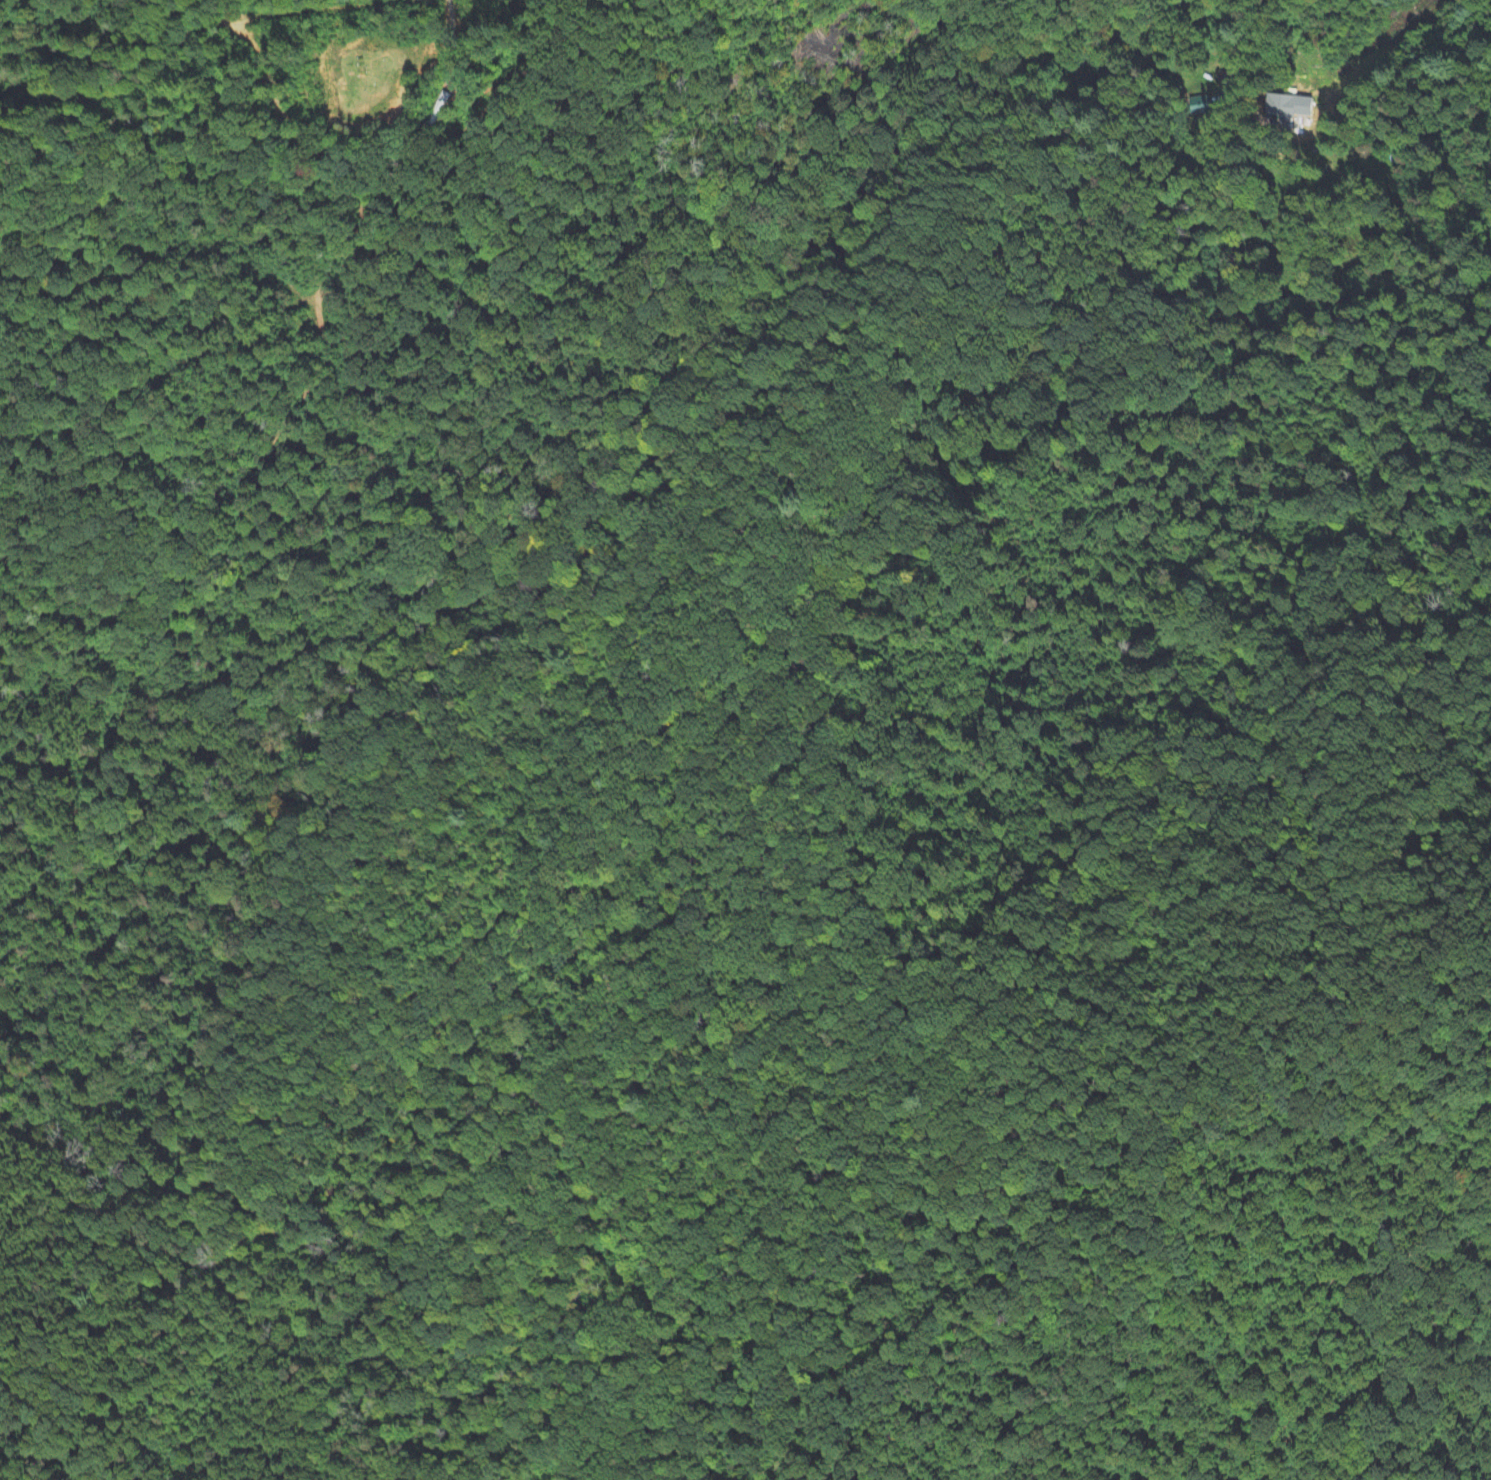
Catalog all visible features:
road: (442, 59)
park: (369, 78)
building: (1200, 105)
building: (1287, 107)

